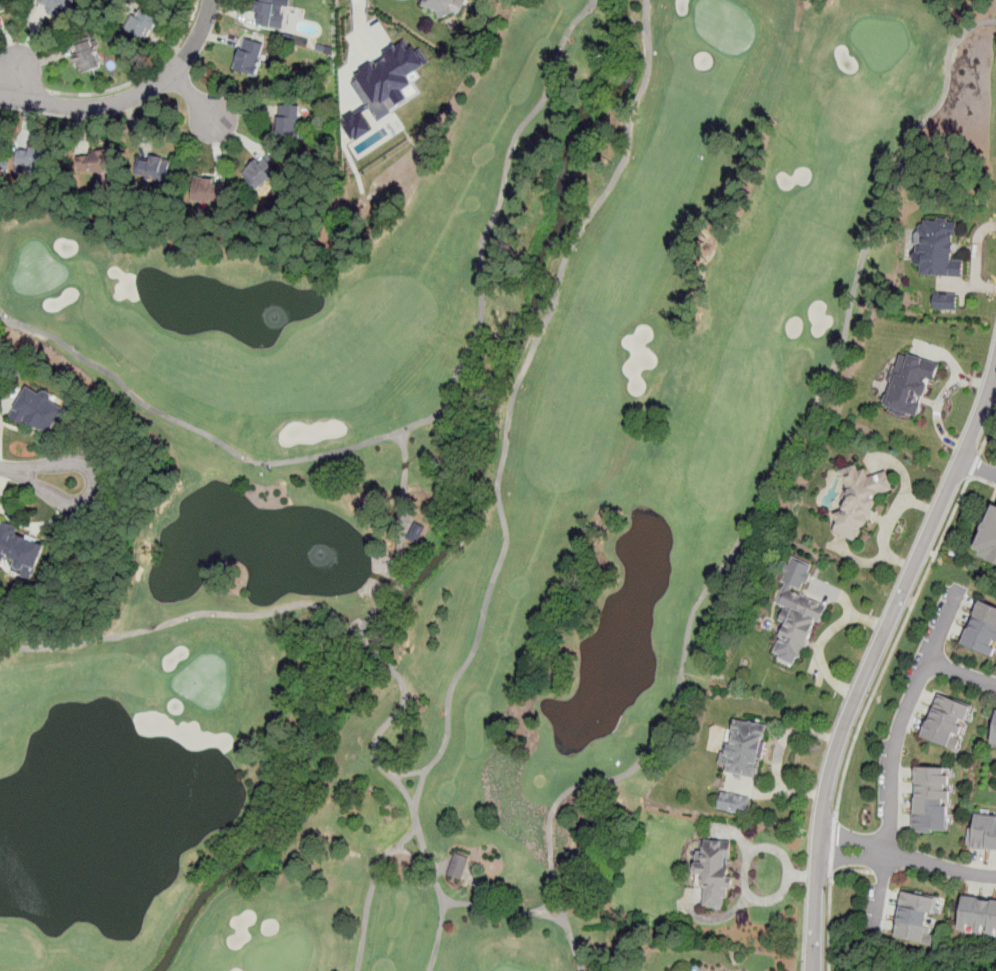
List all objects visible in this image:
building: (4, 2)
building: (445, 5)
building: (58, 7)
building: (273, 13)
building: (143, 21)
river: (622, 23)
road: (196, 40)
road: (357, 52)
building: (86, 56)
building: (250, 57)
road: (399, 57)
road: (144, 76)
road: (26, 87)
building: (385, 99)
road: (196, 101)
road: (90, 106)
building: (288, 122)
building: (359, 125)
building: (31, 156)
building: (96, 162)
building: (155, 169)
building: (261, 173)
building: (208, 190)
building: (939, 250)
building: (945, 300)
building: (910, 385)
building: (45, 409)
road: (422, 422)
road: (987, 433)
road: (502, 460)
road: (974, 465)
road: (978, 465)
road: (770, 483)
road: (93, 484)
park: (448, 496)
building: (858, 504)
building: (988, 538)
building: (21, 547)
building: (797, 611)
road: (190, 616)
road: (942, 626)
building: (983, 631)
road: (895, 644)
road: (379, 657)
road: (873, 661)
road: (961, 673)
building: (948, 723)
building: (994, 734)
building: (745, 749)
road: (893, 754)
building: (932, 800)
building: (735, 803)
building: (982, 832)
road: (419, 834)
road: (833, 845)
road: (412, 854)
road: (747, 856)
road: (909, 857)
road: (379, 864)
building: (458, 865)
road: (850, 870)
building: (714, 871)
road: (528, 912)
building: (978, 916)
building: (916, 917)
road: (829, 922)
road: (438, 934)

